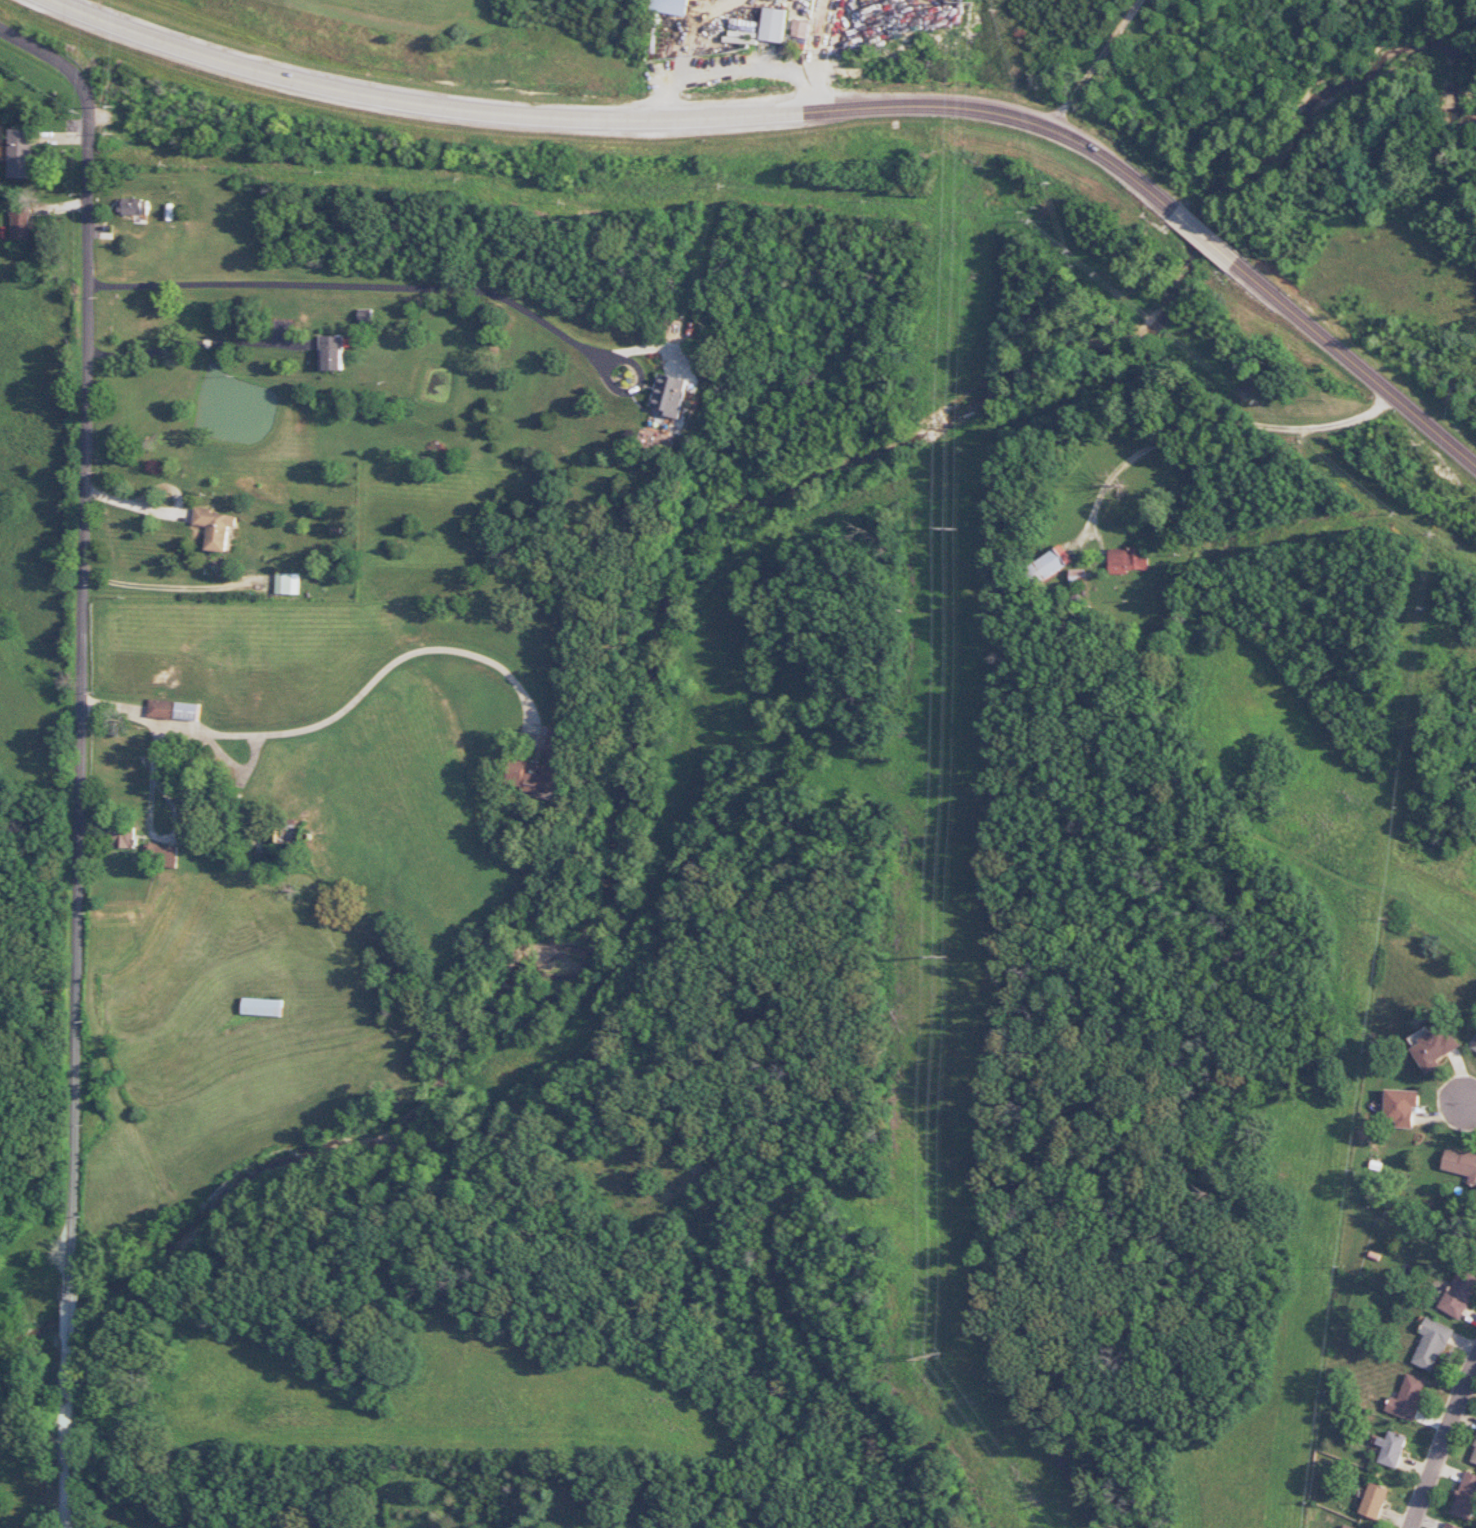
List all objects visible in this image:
power tower: (973, 3)
building: (668, 6)
building: (774, 25)
building: (801, 29)
road: (41, 55)
road: (731, 69)
road: (616, 123)
building: (21, 154)
building: (132, 206)
building: (20, 226)
road: (1204, 235)
road: (415, 287)
road: (199, 342)
building: (331, 353)
road: (1356, 363)
building: (669, 395)
road: (1210, 412)
power tower: (956, 527)
building: (215, 528)
building: (1128, 559)
building: (1049, 563)
building: (1077, 577)
building: (287, 583)
road: (171, 595)
road: (86, 690)
building: (160, 708)
building: (187, 711)
road: (344, 711)
building: (542, 769)
road: (150, 821)
building: (123, 838)
building: (161, 854)
power tower: (946, 957)
building: (262, 1007)
building: (1474, 1045)
building: (1432, 1047)
road: (1472, 1102)
building: (1401, 1108)
building: (1461, 1164)
building: (1475, 1254)
building: (1459, 1294)
road: (73, 1315)
building: (1432, 1344)
power tower: (936, 1357)
building: (1408, 1398)
road: (69, 1426)
road: (1439, 1447)
building: (1391, 1448)
building: (1474, 1456)
building: (1465, 1496)
building: (1374, 1500)
building: (1450, 1525)
building: (1347, 1526)

